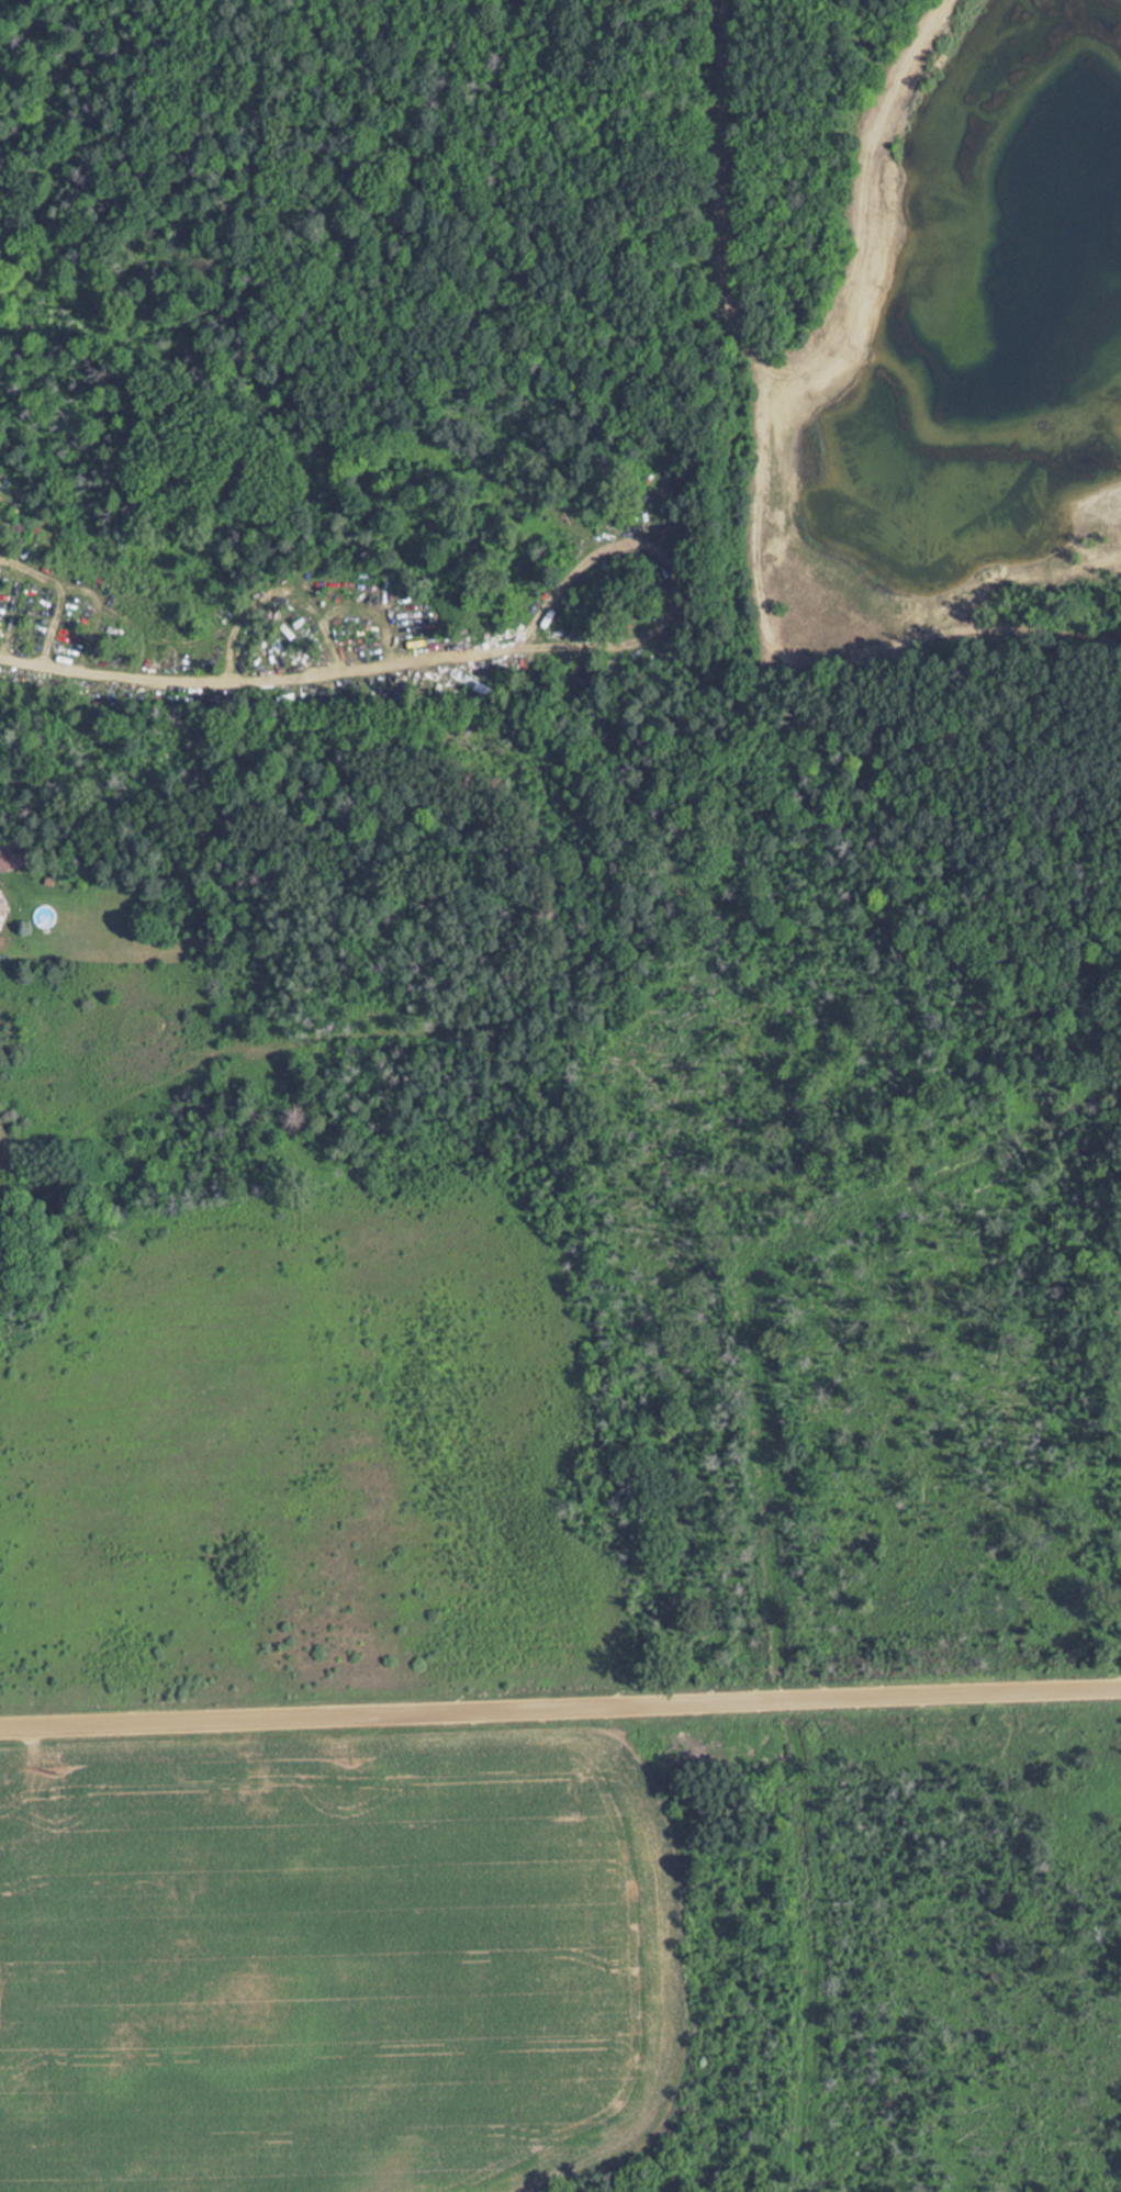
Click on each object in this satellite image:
building: (469, 681)
building: (11, 853)
building: (42, 916)
road: (560, 1709)

